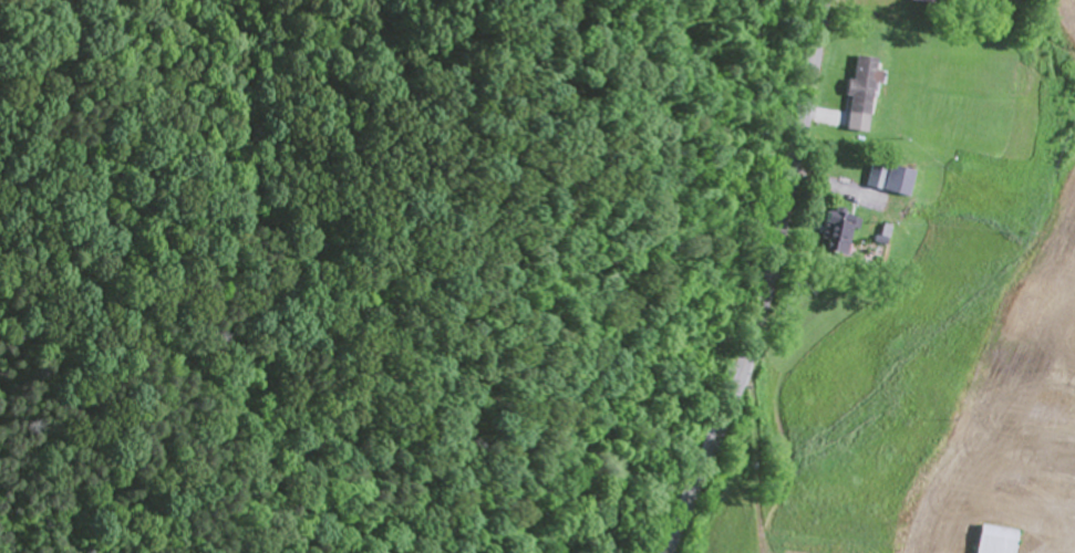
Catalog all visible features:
building: (928, 3)
building: (865, 87)
building: (898, 179)
building: (837, 237)
road: (771, 282)
building: (998, 541)

